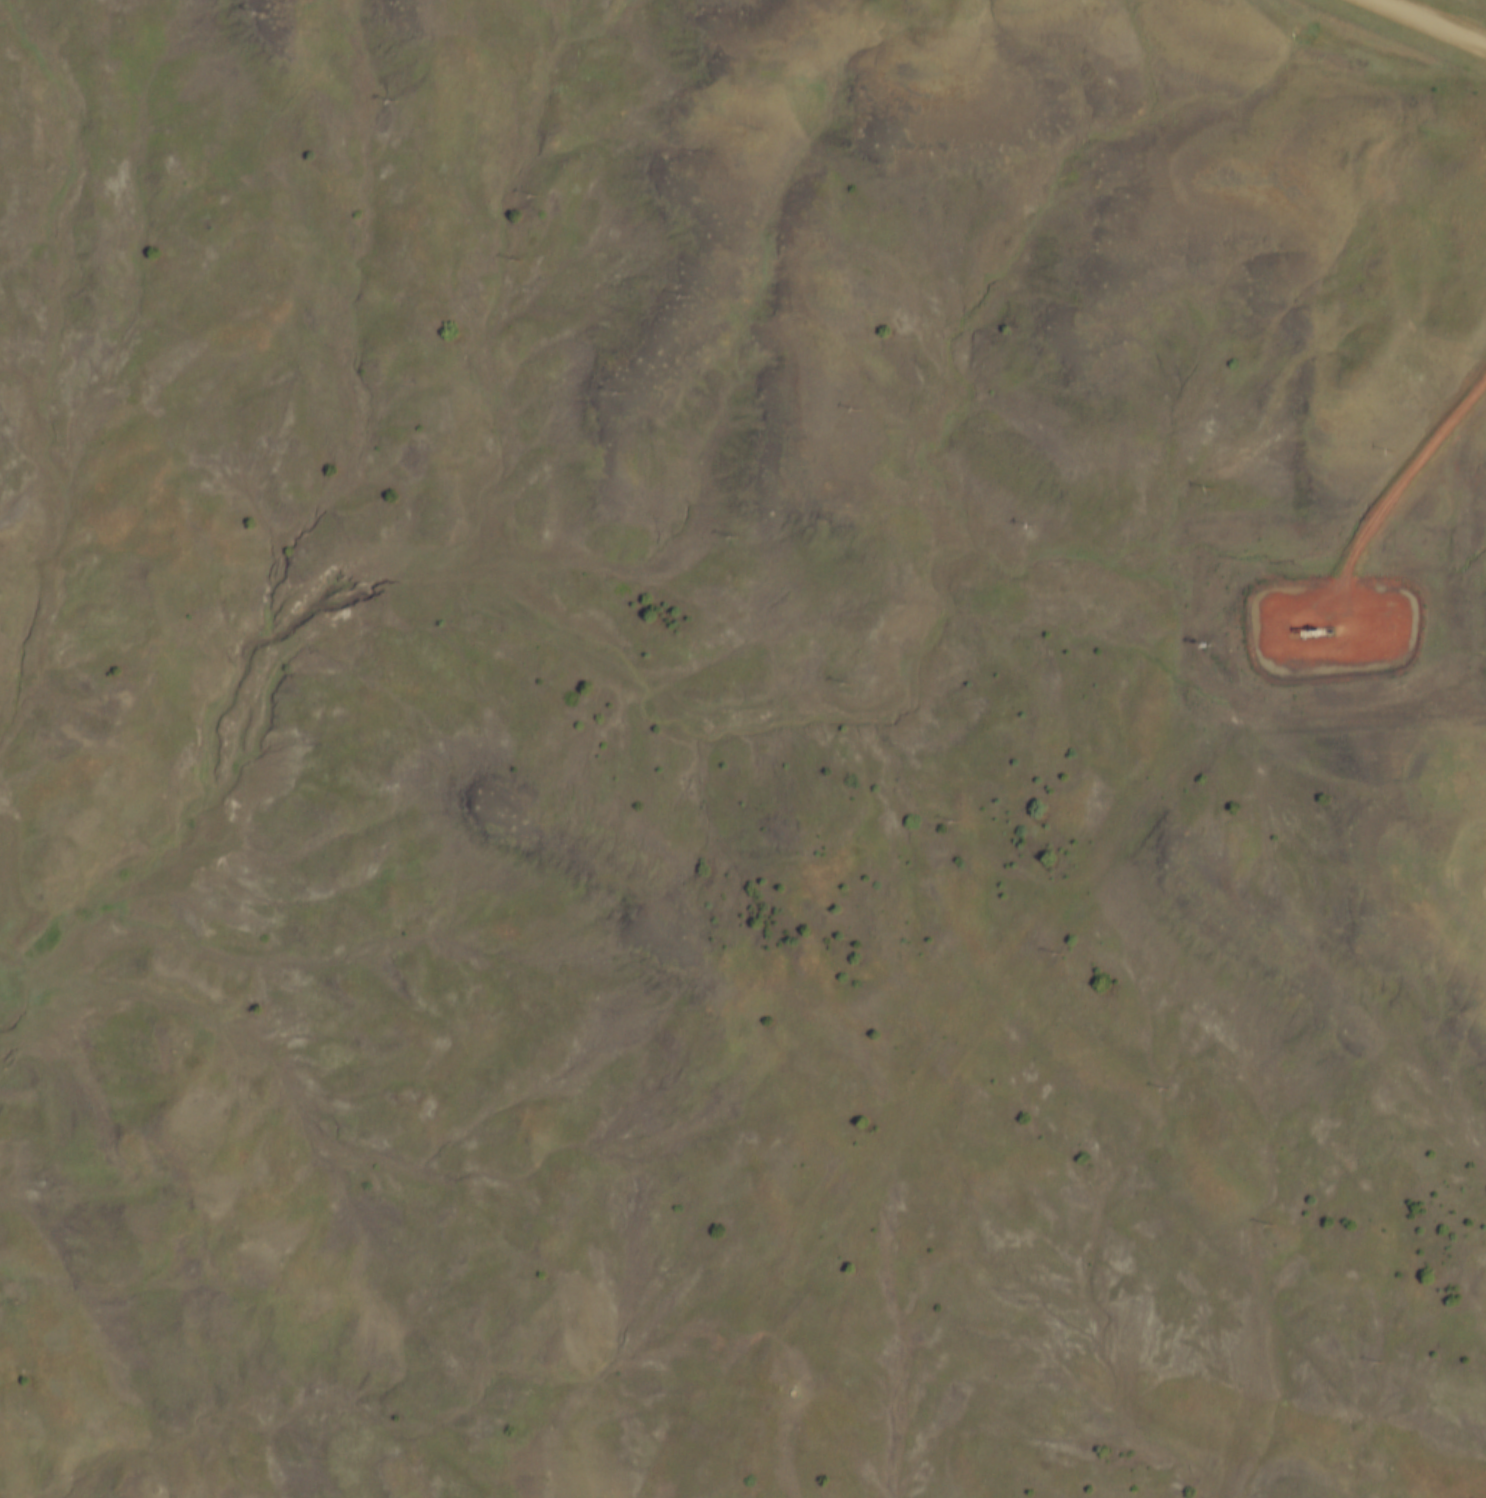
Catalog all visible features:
road: (1431, 22)
road: (1413, 469)
petroleum well: (1313, 631)
road: (1300, 650)

